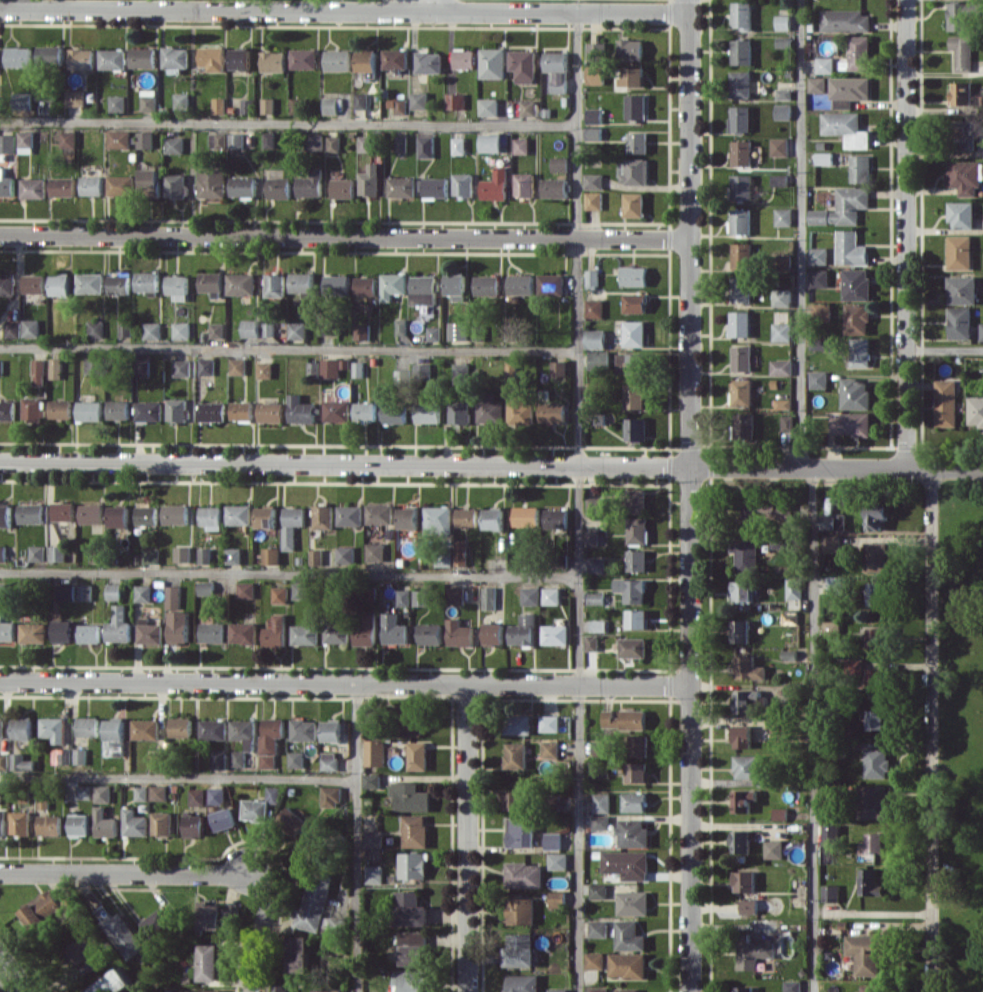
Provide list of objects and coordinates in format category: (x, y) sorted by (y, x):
road: (19, 3)
road: (418, 5)
road: (437, 5)
road: (344, 9)
building: (741, 14)
building: (960, 16)
building: (845, 20)
building: (782, 22)
building: (631, 49)
building: (596, 51)
building: (741, 51)
building: (859, 52)
building: (962, 52)
building: (50, 55)
building: (19, 56)
building: (143, 57)
building: (82, 58)
building: (212, 58)
building: (240, 58)
building: (304, 58)
building: (464, 58)
building: (112, 59)
building: (175, 59)
building: (395, 59)
building: (338, 60)
building: (273, 61)
building: (366, 61)
building: (429, 62)
building: (492, 63)
building: (523, 65)
building: (825, 65)
building: (556, 70)
building: (595, 74)
building: (633, 76)
building: (740, 84)
building: (817, 84)
building: (849, 90)
building: (44, 93)
building: (960, 93)
building: (75, 97)
building: (148, 100)
building: (360, 100)
building: (419, 100)
building: (181, 101)
building: (455, 101)
building: (117, 103)
building: (398, 104)
building: (219, 105)
building: (267, 105)
building: (330, 105)
building: (636, 106)
building: (488, 107)
building: (527, 108)
building: (782, 111)
building: (594, 115)
building: (739, 118)
road: (288, 122)
building: (846, 128)
building: (595, 134)
building: (965, 135)
building: (68, 139)
building: (118, 139)
building: (144, 139)
building: (269, 139)
building: (218, 140)
building: (236, 140)
building: (25, 141)
building: (314, 141)
building: (490, 142)
building: (638, 142)
building: (7, 143)
building: (333, 143)
building: (364, 143)
building: (401, 143)
building: (174, 145)
building: (458, 145)
building: (520, 145)
building: (779, 146)
building: (425, 147)
building: (741, 152)
building: (823, 158)
building: (560, 164)
building: (860, 168)
building: (636, 171)
building: (965, 176)
building: (779, 179)
building: (150, 181)
building: (370, 181)
building: (593, 181)
building: (212, 183)
building: (6, 184)
building: (311, 184)
building: (463, 184)
building: (524, 184)
building: (92, 185)
building: (121, 185)
building: (176, 185)
building: (495, 185)
building: (63, 186)
building: (401, 186)
building: (741, 186)
building: (280, 187)
building: (436, 187)
building: (33, 188)
building: (343, 188)
building: (555, 188)
building: (593, 200)
building: (634, 204)
building: (843, 207)
building: (961, 215)
building: (783, 216)
building: (740, 220)
road: (801, 233)
road: (907, 234)
road: (344, 236)
building: (850, 248)
building: (960, 252)
building: (741, 255)
building: (818, 255)
building: (634, 276)
building: (818, 277)
building: (591, 279)
building: (147, 281)
building: (211, 281)
building: (301, 282)
building: (34, 283)
building: (90, 283)
building: (241, 283)
building: (7, 284)
building: (119, 284)
building: (520, 284)
building: (551, 284)
building: (856, 284)
building: (60, 285)
building: (275, 285)
building: (336, 285)
building: (366, 285)
building: (392, 285)
building: (487, 285)
building: (456, 286)
building: (178, 287)
building: (425, 287)
building: (741, 289)
building: (961, 289)
building: (782, 297)
building: (635, 302)
building: (593, 308)
building: (822, 310)
building: (857, 318)
building: (960, 322)
building: (739, 324)
building: (30, 327)
building: (401, 327)
building: (96, 328)
building: (124, 328)
building: (250, 328)
building: (268, 328)
building: (12, 329)
building: (152, 330)
building: (181, 330)
building: (217, 330)
building: (297, 330)
building: (459, 330)
building: (362, 331)
building: (781, 331)
building: (981, 331)
building: (434, 333)
building: (634, 333)
building: (595, 338)
building: (821, 343)
road: (289, 348)
road: (945, 349)
building: (860, 352)
building: (742, 358)
building: (598, 360)
building: (630, 363)
building: (95, 365)
building: (206, 366)
building: (238, 366)
building: (333, 366)
building: (1, 367)
building: (182, 367)
building: (781, 367)
building: (55, 368)
building: (511, 368)
building: (558, 368)
building: (264, 370)
building: (38, 371)
building: (460, 373)
building: (818, 379)
building: (741, 392)
building: (855, 393)
building: (634, 396)
building: (783, 403)
building: (945, 403)
building: (489, 408)
building: (60, 409)
building: (118, 409)
building: (177, 409)
building: (520, 409)
building: (7, 410)
building: (89, 410)
building: (149, 410)
building: (242, 410)
building: (300, 410)
building: (337, 410)
building: (33, 411)
building: (213, 411)
building: (976, 411)
building: (271, 412)
building: (365, 412)
building: (394, 412)
building: (460, 412)
building: (552, 412)
building: (427, 413)
building: (851, 423)
building: (743, 424)
building: (636, 429)
building: (787, 429)
road: (491, 464)
road: (690, 495)
building: (637, 500)
road: (579, 501)
building: (595, 505)
building: (777, 510)
building: (64, 511)
building: (31, 513)
building: (91, 513)
building: (380, 513)
building: (751, 513)
building: (147, 514)
building: (176, 514)
building: (239, 514)
building: (5, 515)
building: (350, 515)
building: (119, 516)
building: (266, 516)
building: (526, 516)
building: (211, 517)
building: (323, 517)
building: (467, 517)
building: (876, 517)
building: (408, 518)
building: (493, 518)
building: (556, 518)
building: (438, 520)
building: (833, 521)
building: (292, 525)
building: (638, 530)
building: (592, 536)
building: (780, 542)
building: (831, 543)
building: (460, 552)
building: (2, 553)
building: (36, 553)
building: (57, 553)
building: (182, 553)
building: (345, 554)
building: (374, 554)
building: (746, 554)
building: (150, 555)
building: (204, 555)
building: (234, 555)
building: (271, 555)
building: (876, 556)
building: (316, 557)
building: (443, 560)
building: (637, 560)
building: (596, 564)
road: (289, 573)
building: (837, 585)
building: (206, 588)
building: (794, 588)
building: (246, 589)
building: (632, 589)
building: (299, 590)
building: (741, 590)
building: (2, 591)
building: (113, 591)
building: (65, 592)
building: (84, 592)
building: (143, 593)
building: (877, 593)
building: (279, 595)
building: (456, 595)
building: (551, 595)
building: (173, 596)
building: (530, 596)
building: (403, 597)
building: (420, 597)
building: (489, 598)
building: (596, 598)
building: (789, 617)
building: (637, 618)
building: (119, 625)
building: (598, 625)
building: (179, 627)
building: (832, 627)
building: (366, 628)
building: (394, 629)
building: (7, 630)
building: (63, 630)
building: (523, 630)
building: (149, 631)
building: (740, 631)
building: (33, 632)
building: (213, 632)
building: (243, 632)
building: (275, 632)
building: (89, 633)
building: (336, 633)
building: (431, 633)
building: (460, 633)
building: (494, 633)
building: (304, 634)
building: (555, 634)
building: (877, 637)
building: (592, 642)
building: (632, 647)
building: (748, 668)
building: (878, 679)
road: (345, 682)
building: (791, 691)
building: (746, 701)
building: (624, 718)
building: (877, 719)
building: (411, 720)
building: (549, 723)
building: (518, 724)
building: (88, 726)
building: (1, 727)
building: (180, 727)
building: (22, 728)
building: (53, 728)
building: (775, 728)
building: (145, 729)
building: (213, 729)
building: (304, 729)
road: (813, 729)
building: (114, 730)
road: (931, 730)
building: (332, 731)
building: (245, 732)
park: (960, 735)
building: (742, 736)
building: (270, 740)
building: (638, 745)
building: (600, 748)
building: (550, 749)
building: (375, 752)
building: (418, 755)
building: (516, 755)
building: (61, 756)
building: (79, 756)
building: (218, 758)
building: (238, 758)
building: (296, 759)
building: (4, 760)
building: (329, 761)
building: (21, 762)
building: (877, 763)
building: (746, 766)
building: (595, 768)
building: (637, 771)
road: (178, 778)
building: (372, 780)
building: (84, 791)
building: (158, 792)
building: (102, 793)
building: (141, 793)
building: (273, 794)
building: (216, 795)
building: (331, 796)
building: (197, 797)
building: (410, 797)
building: (743, 799)
building: (514, 800)
building: (43, 801)
building: (634, 801)
building: (601, 802)
building: (872, 802)
building: (255, 810)
building: (780, 813)
building: (223, 819)
building: (291, 821)
building: (601, 821)
building: (3, 822)
building: (134, 822)
building: (162, 822)
building: (20, 823)
building: (104, 823)
building: (79, 824)
building: (49, 825)
building: (194, 825)
building: (415, 831)
building: (521, 832)
building: (633, 833)
building: (831, 834)
road: (355, 837)
road: (468, 838)
building: (373, 839)
building: (553, 840)
building: (740, 841)
building: (877, 842)
building: (310, 845)
building: (773, 849)
building: (557, 861)
building: (627, 864)
building: (413, 865)
road: (123, 873)
building: (374, 874)
building: (524, 875)
building: (744, 881)
building: (871, 882)
building: (598, 891)
building: (831, 893)
building: (557, 898)
building: (633, 902)
building: (749, 906)
building: (41, 909)
building: (410, 909)
building: (318, 910)
building: (521, 910)
building: (208, 916)
building: (230, 917)
building: (159, 922)
building: (598, 928)
road: (261, 929)
building: (122, 932)
building: (629, 936)
building: (83, 948)
building: (413, 948)
building: (520, 950)
building: (752, 951)
building: (867, 952)
building: (299, 953)
building: (595, 960)
building: (210, 962)
building: (627, 965)
road: (10, 978)
building: (410, 981)
building: (112, 982)
building: (521, 983)
building: (792, 986)
building: (283, 987)
building: (870, 988)
building: (598, 989)
building: (744, 989)
building: (196, 990)
building: (326, 990)
building: (558, 990)
building: (627, 990)

